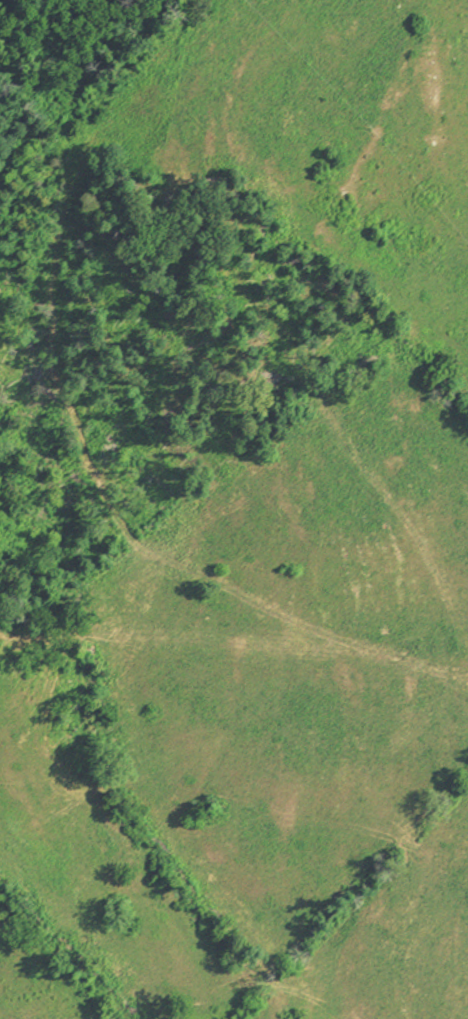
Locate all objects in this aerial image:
crop: (41, 978)

